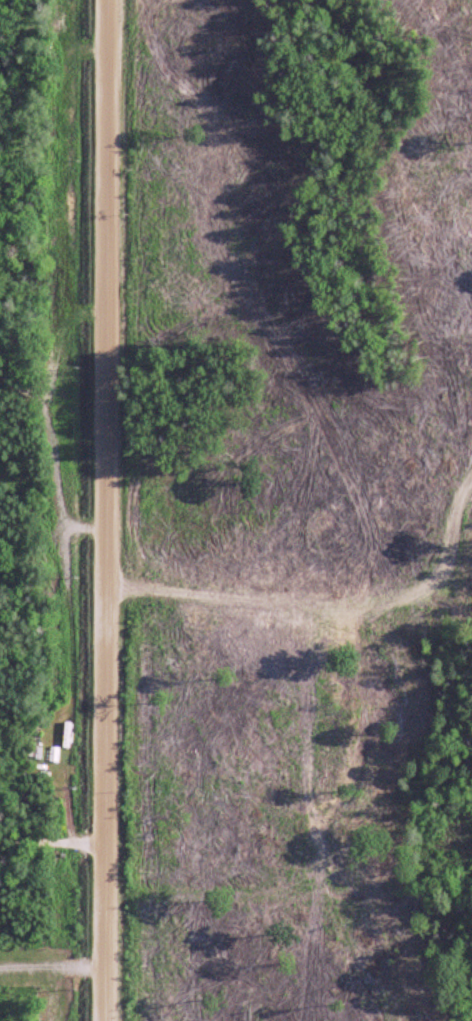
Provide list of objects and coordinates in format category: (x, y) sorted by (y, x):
road: (104, 510)
road: (51, 840)

